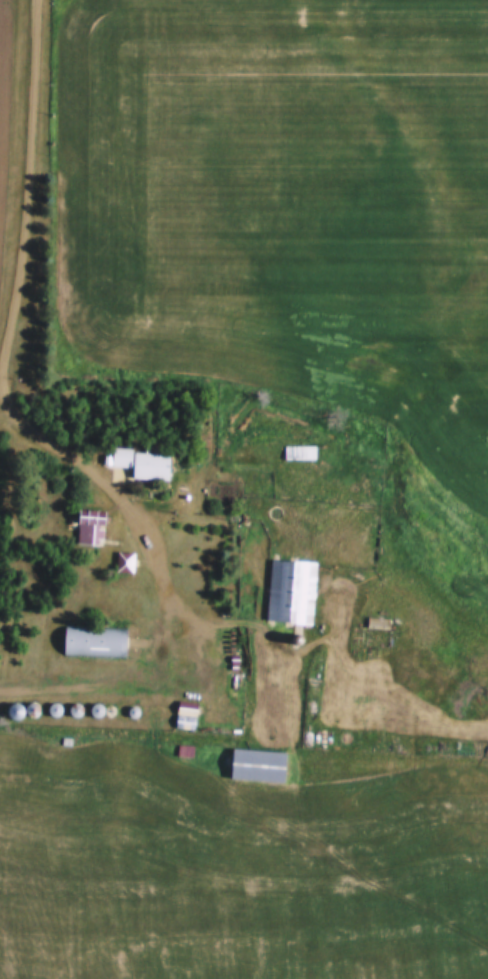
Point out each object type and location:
road: (11, 338)
building: (141, 467)
building: (91, 528)
building: (292, 593)
building: (95, 642)
road: (106, 681)
building: (32, 712)
building: (15, 713)
building: (258, 767)
road: (248, 844)

